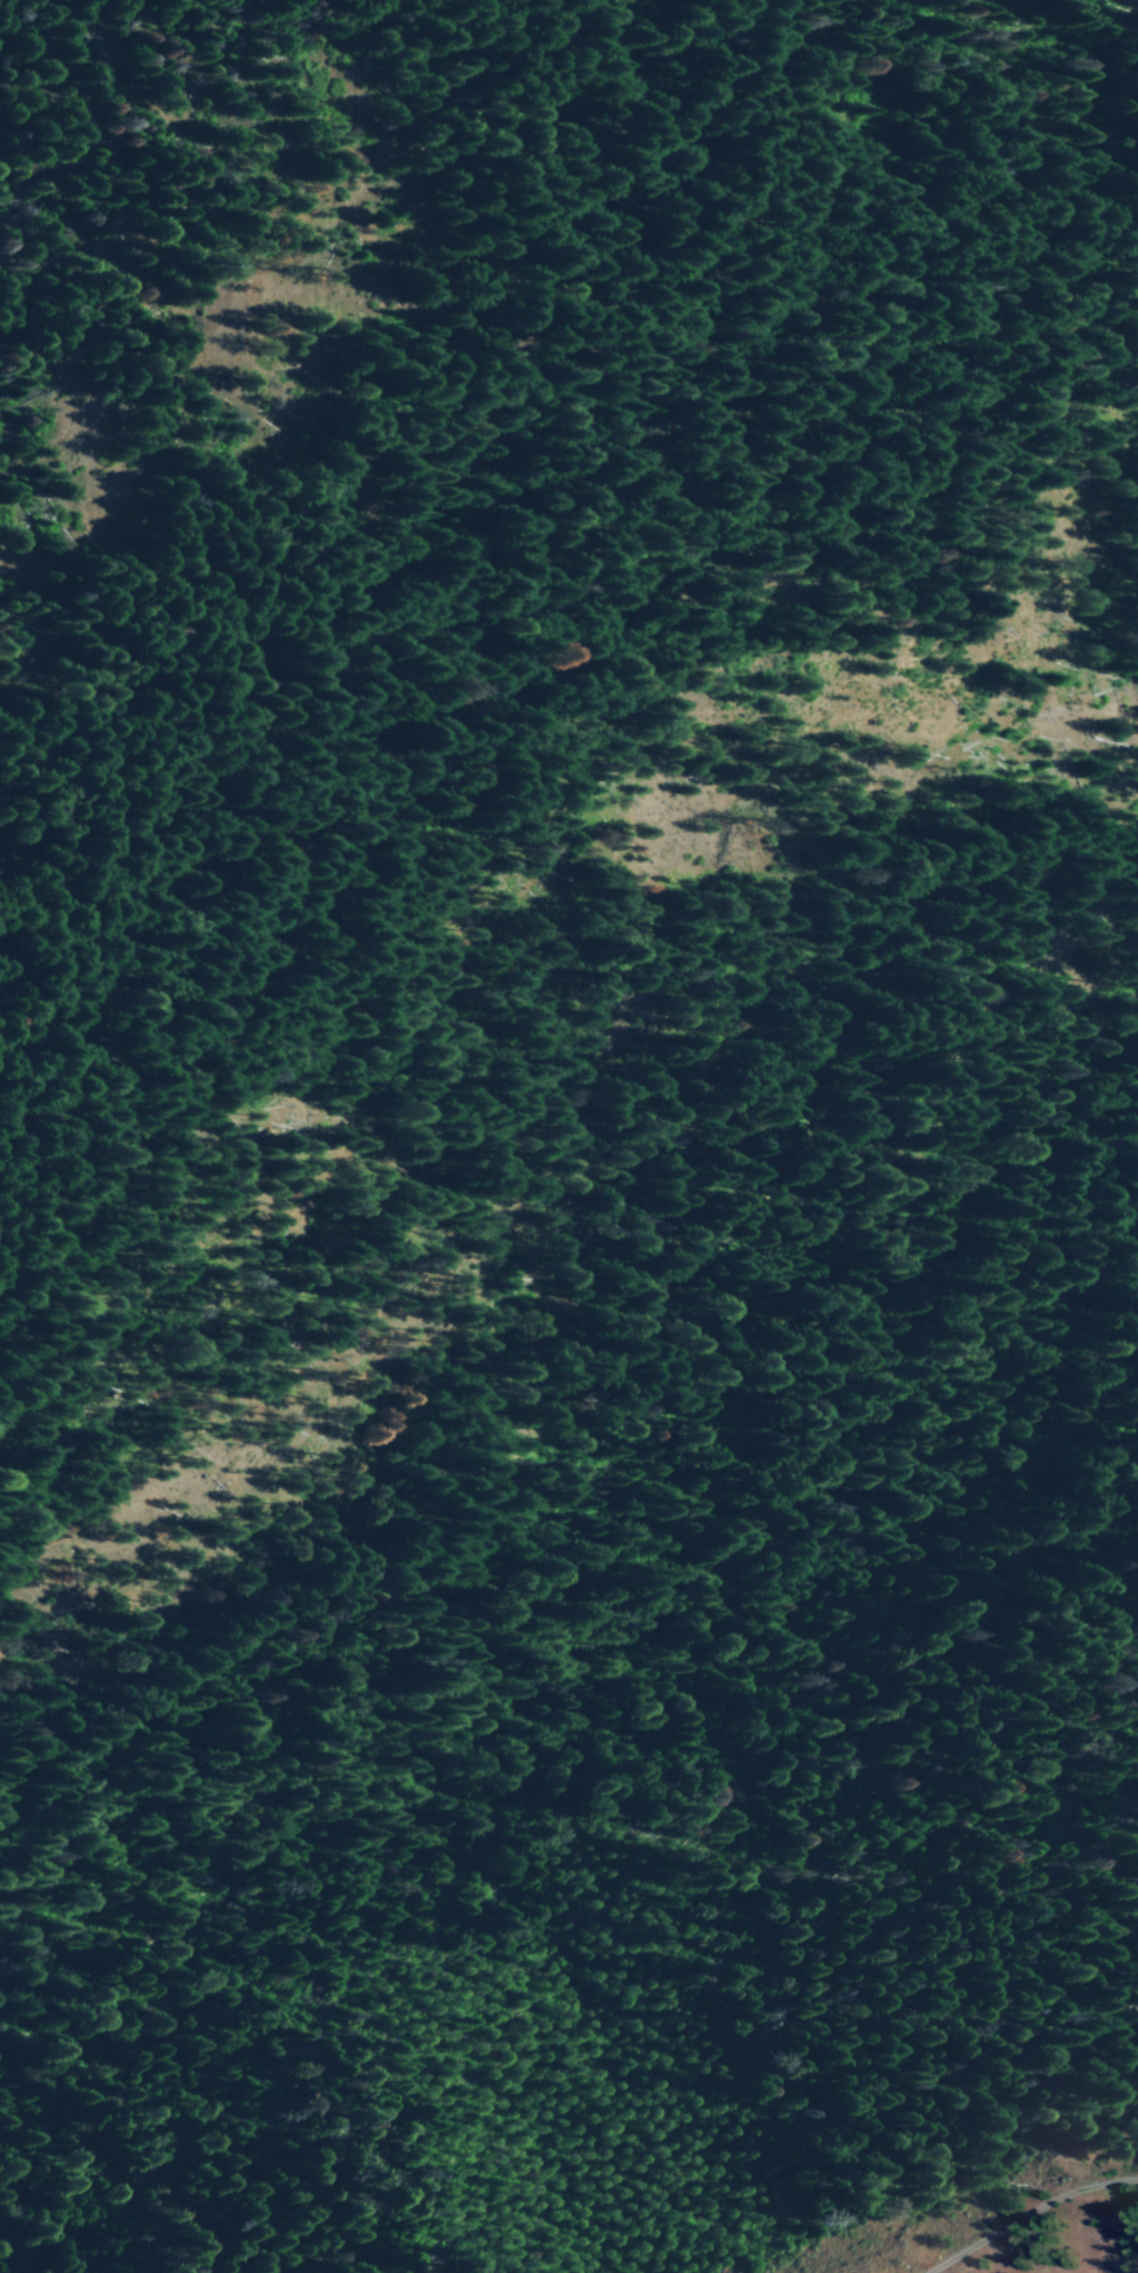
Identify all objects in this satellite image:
road: (1032, 2217)

